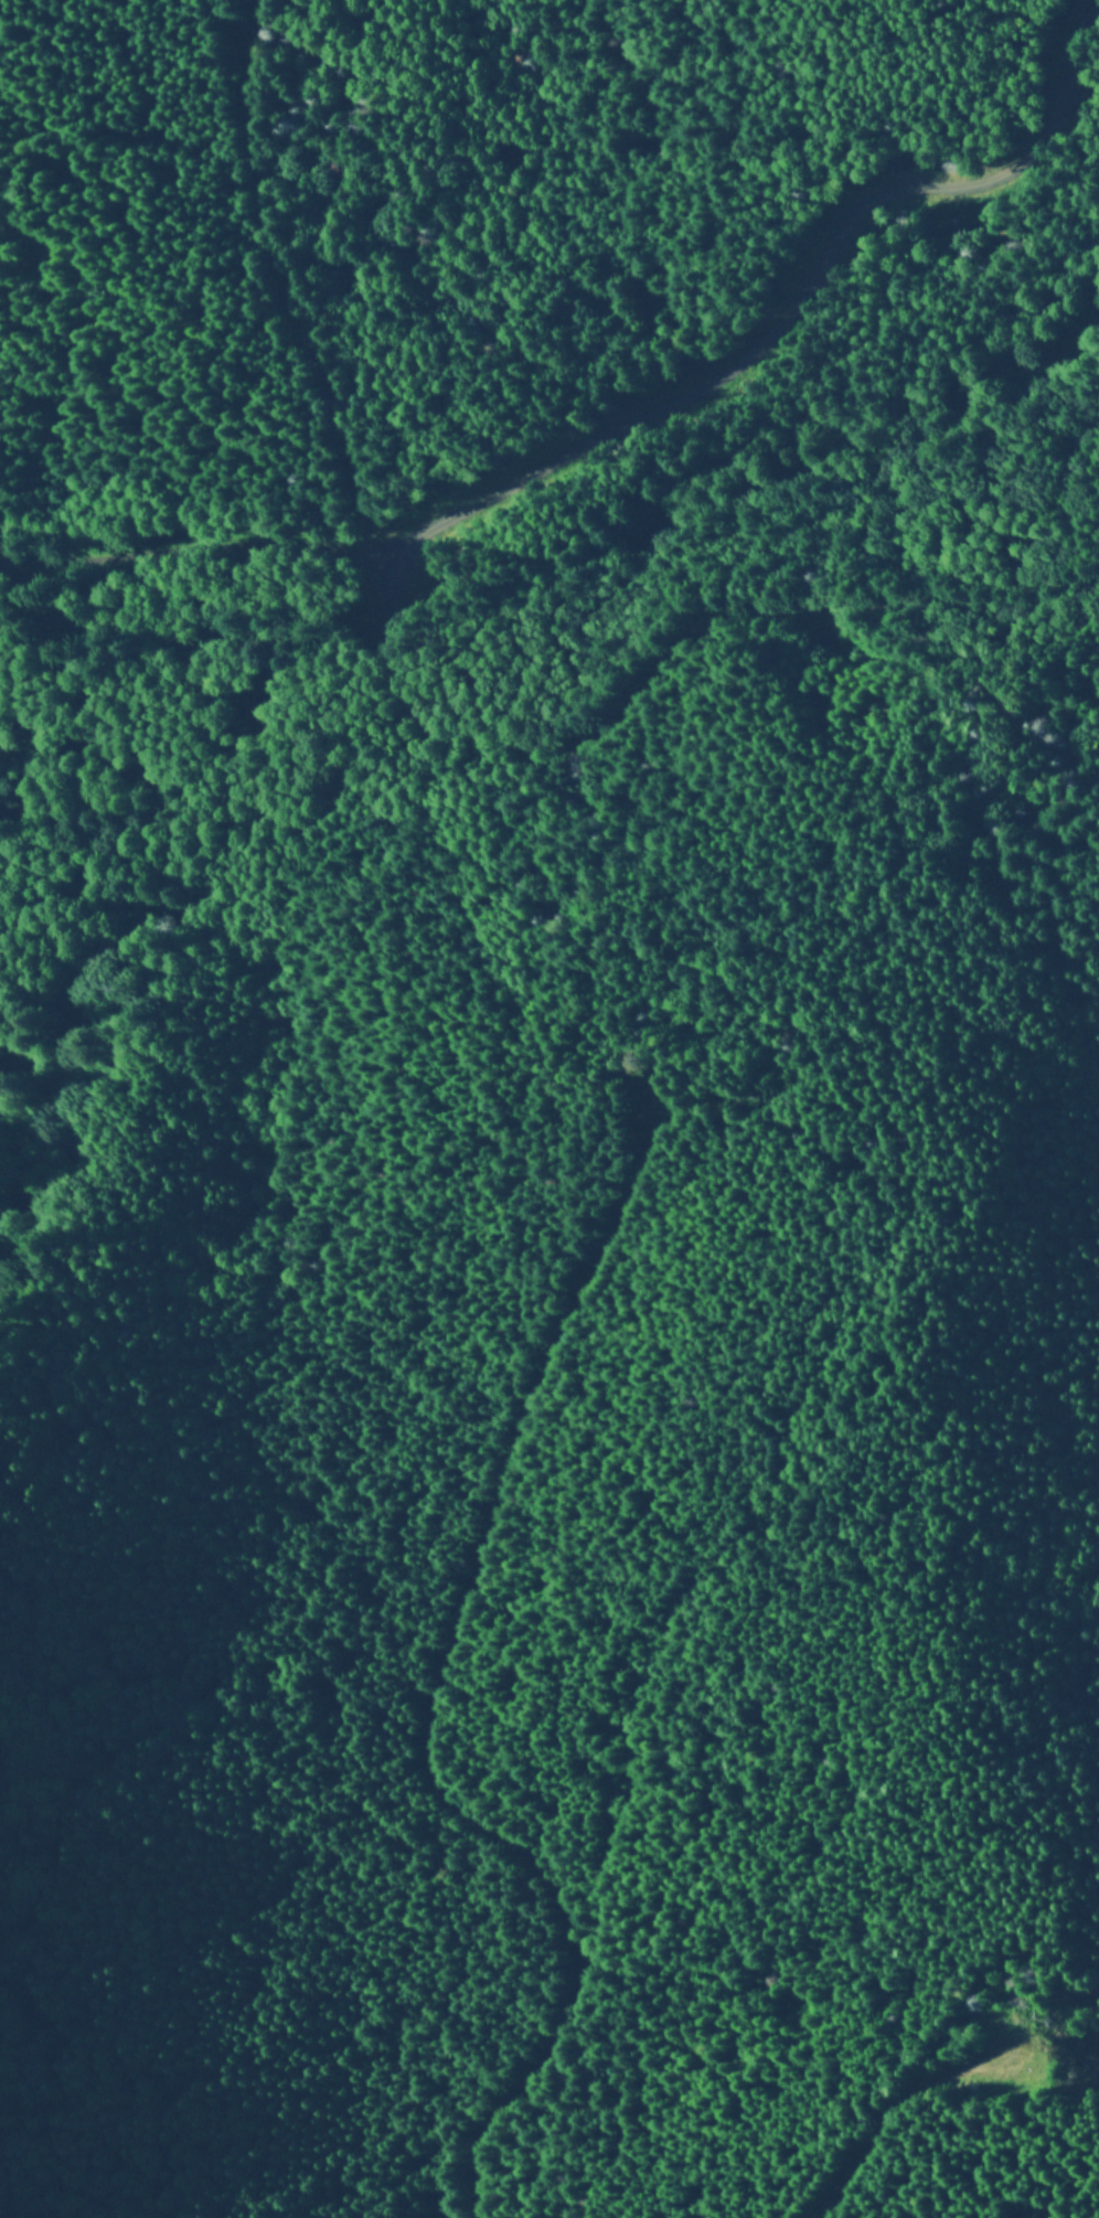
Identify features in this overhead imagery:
road: (570, 564)
road: (598, 765)
road: (426, 1798)

